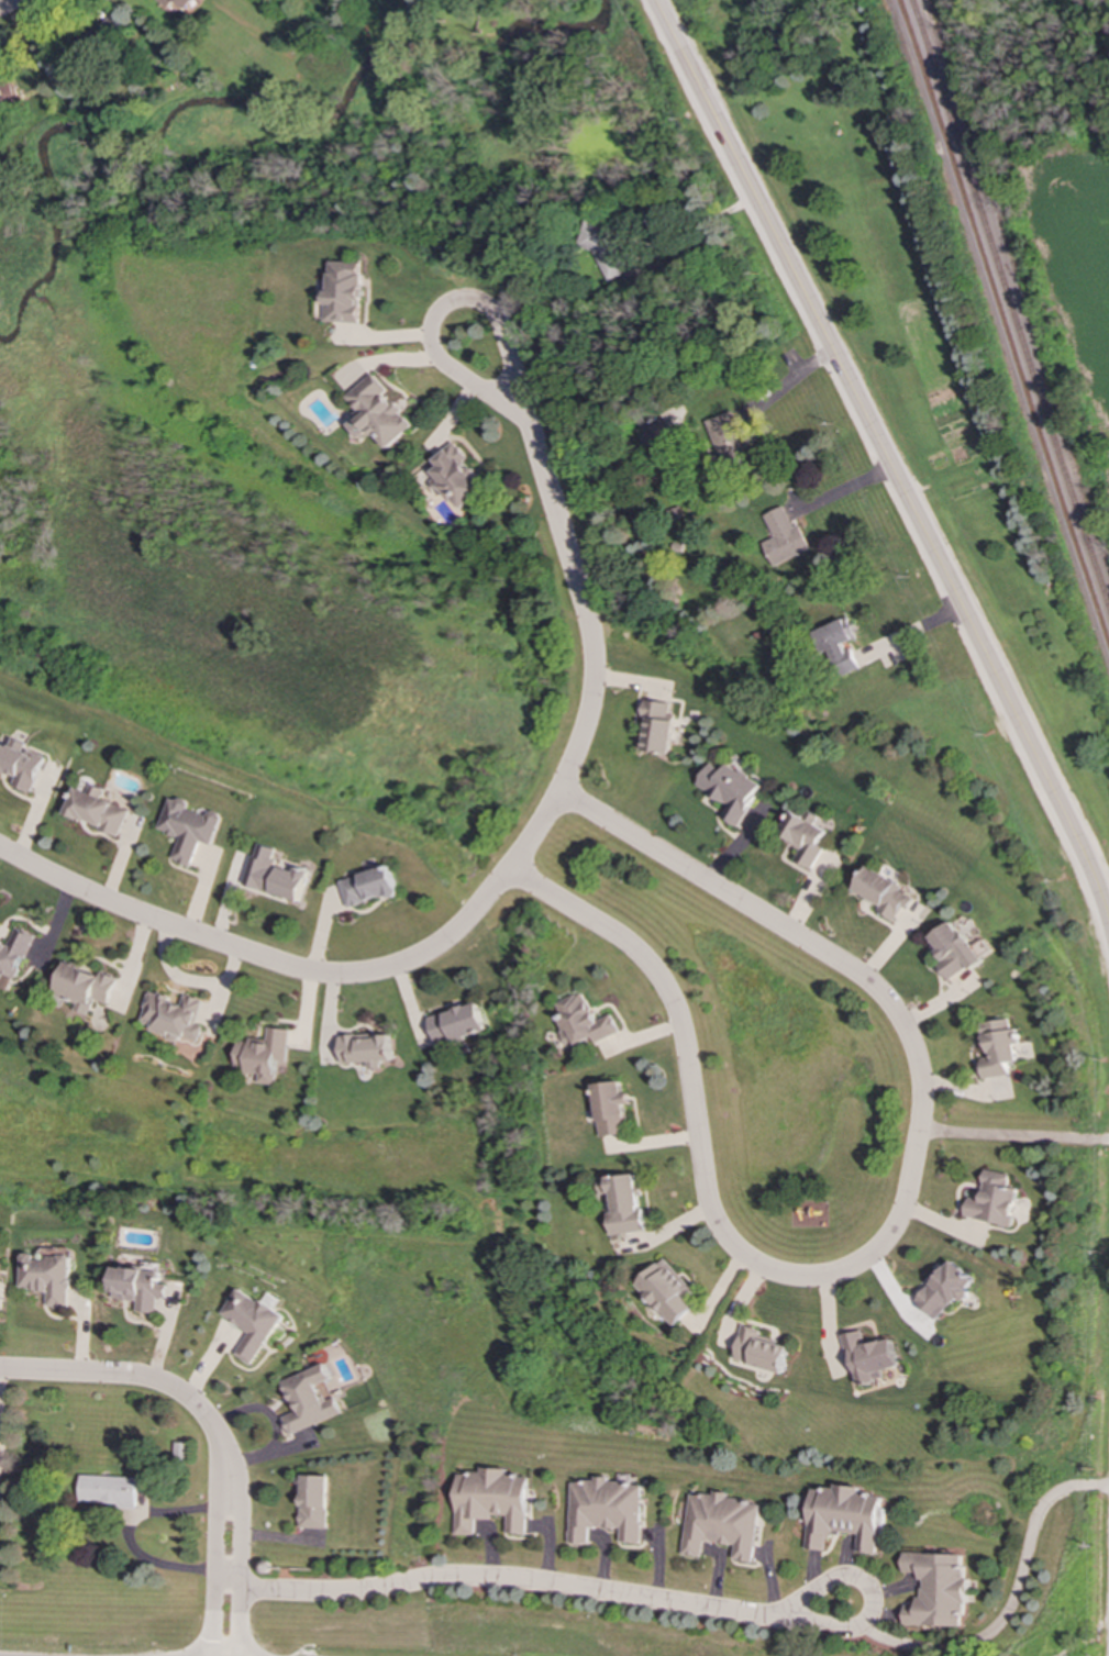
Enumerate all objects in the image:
road: (10, 5)
building: (169, 5)
building: (9, 93)
building: (606, 249)
crop: (1078, 256)
building: (343, 292)
road: (476, 305)
railway: (1010, 305)
railway: (1005, 323)
building: (377, 412)
building: (654, 433)
building: (724, 436)
road: (885, 455)
building: (457, 477)
road: (841, 489)
building: (783, 538)
road: (585, 604)
road: (912, 634)
building: (840, 646)
building: (661, 725)
building: (21, 765)
building: (732, 789)
building: (98, 811)
building: (189, 829)
building: (806, 838)
building: (275, 875)
building: (369, 887)
building: (885, 892)
building: (956, 949)
building: (13, 952)
road: (307, 974)
building: (82, 987)
building: (173, 1015)
building: (583, 1022)
building: (457, 1024)
building: (365, 1047)
building: (1000, 1047)
building: (262, 1055)
building: (611, 1108)
road: (1013, 1136)
building: (994, 1200)
building: (621, 1202)
road: (886, 1241)
building: (46, 1277)
building: (140, 1287)
building: (944, 1290)
building: (664, 1291)
building: (252, 1322)
building: (757, 1351)
building: (867, 1356)
road: (146, 1380)
building: (309, 1399)
building: (109, 1490)
building: (490, 1499)
building: (312, 1501)
building: (606, 1509)
building: (844, 1516)
building: (722, 1524)
road: (212, 1570)
road: (236, 1570)
road: (497, 1578)
building: (938, 1588)
road: (872, 1594)
road: (1012, 1601)

